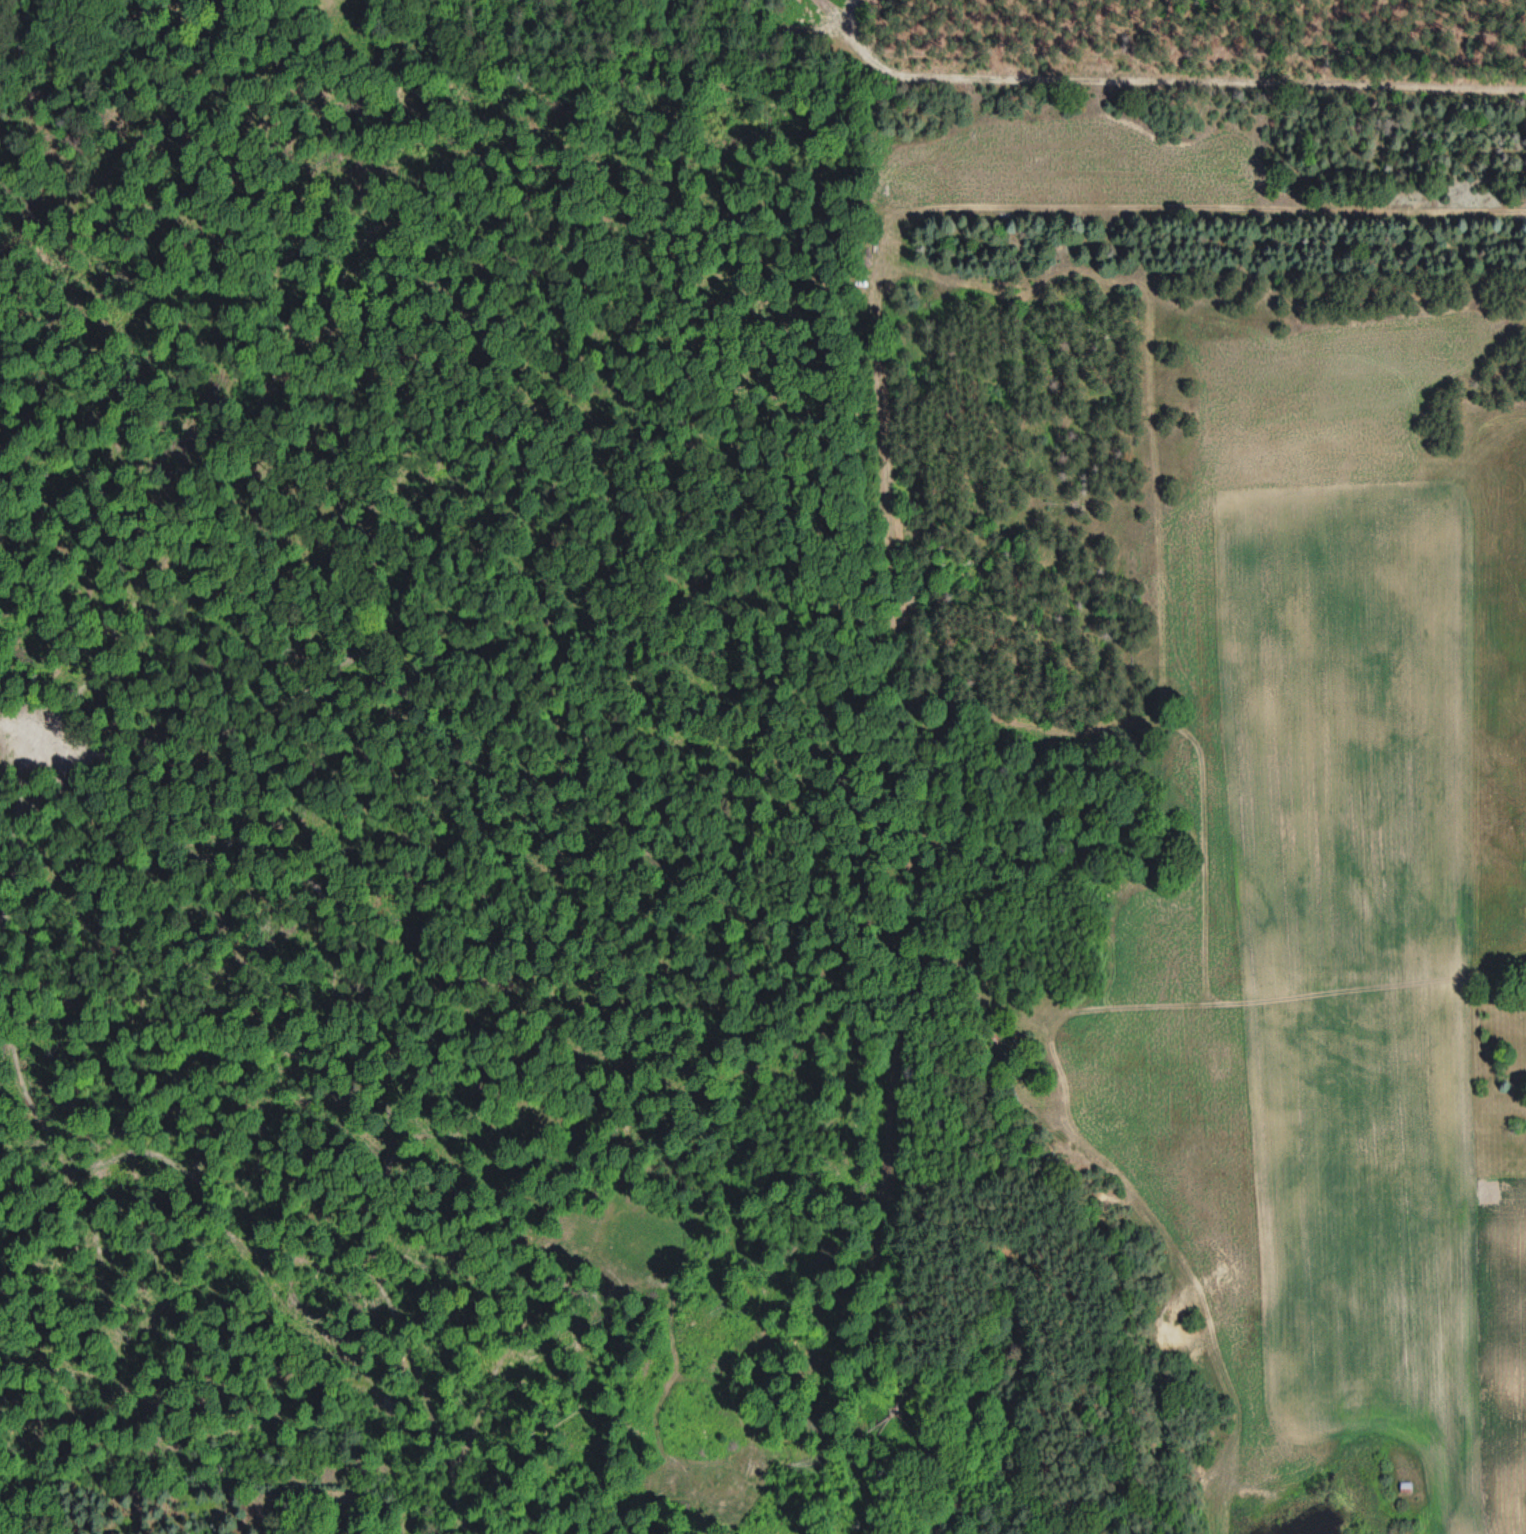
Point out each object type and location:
building: (1406, 1491)

